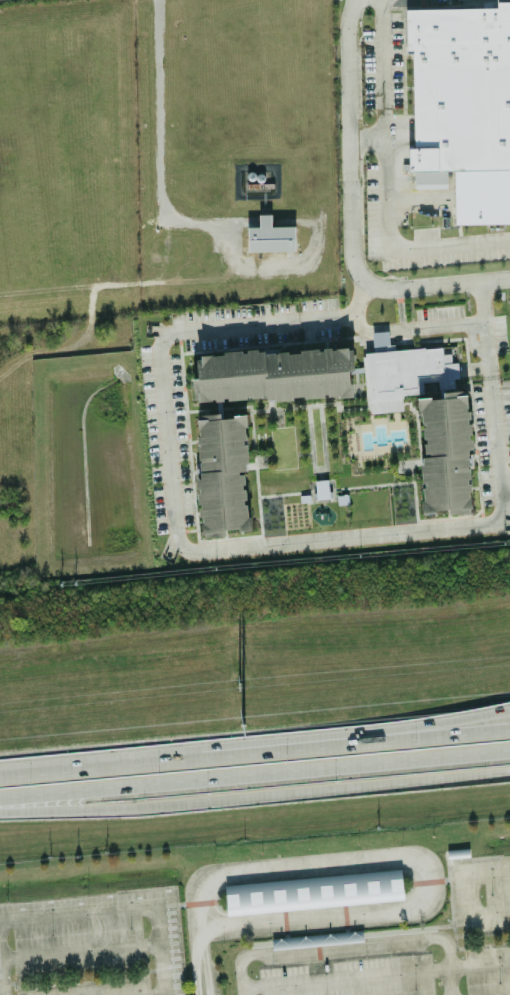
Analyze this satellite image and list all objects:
road: (361, 1)
building: (462, 107)
road: (367, 133)
road: (158, 148)
road: (385, 182)
road: (352, 217)
building: (270, 237)
road: (413, 329)
building: (402, 373)
building: (272, 375)
building: (445, 454)
building: (224, 477)
building: (321, 489)
road: (239, 544)
power tower: (236, 686)
power tower: (239, 726)
road: (426, 726)
road: (254, 750)
road: (255, 776)
road: (447, 777)
road: (341, 788)
road: (149, 806)
railway: (255, 821)
road: (463, 858)
road: (420, 865)
road: (487, 877)
road: (428, 881)
road: (313, 882)
road: (465, 898)
road: (87, 900)
road: (198, 902)
road: (313, 902)
road: (180, 904)
building: (313, 905)
road: (76, 913)
road: (488, 913)
road: (345, 917)
road: (284, 923)
road: (453, 933)
road: (196, 935)
road: (351, 935)
road: (179, 943)
parking lot: (254, 946)
road: (349, 946)
road: (476, 946)
road: (78, 950)
road: (157, 950)
road: (317, 950)
road: (345, 959)
road: (167, 966)
road: (204, 967)
road: (194, 968)
road: (375, 977)
road: (9, 983)
road: (18, 987)
road: (0, 989)

